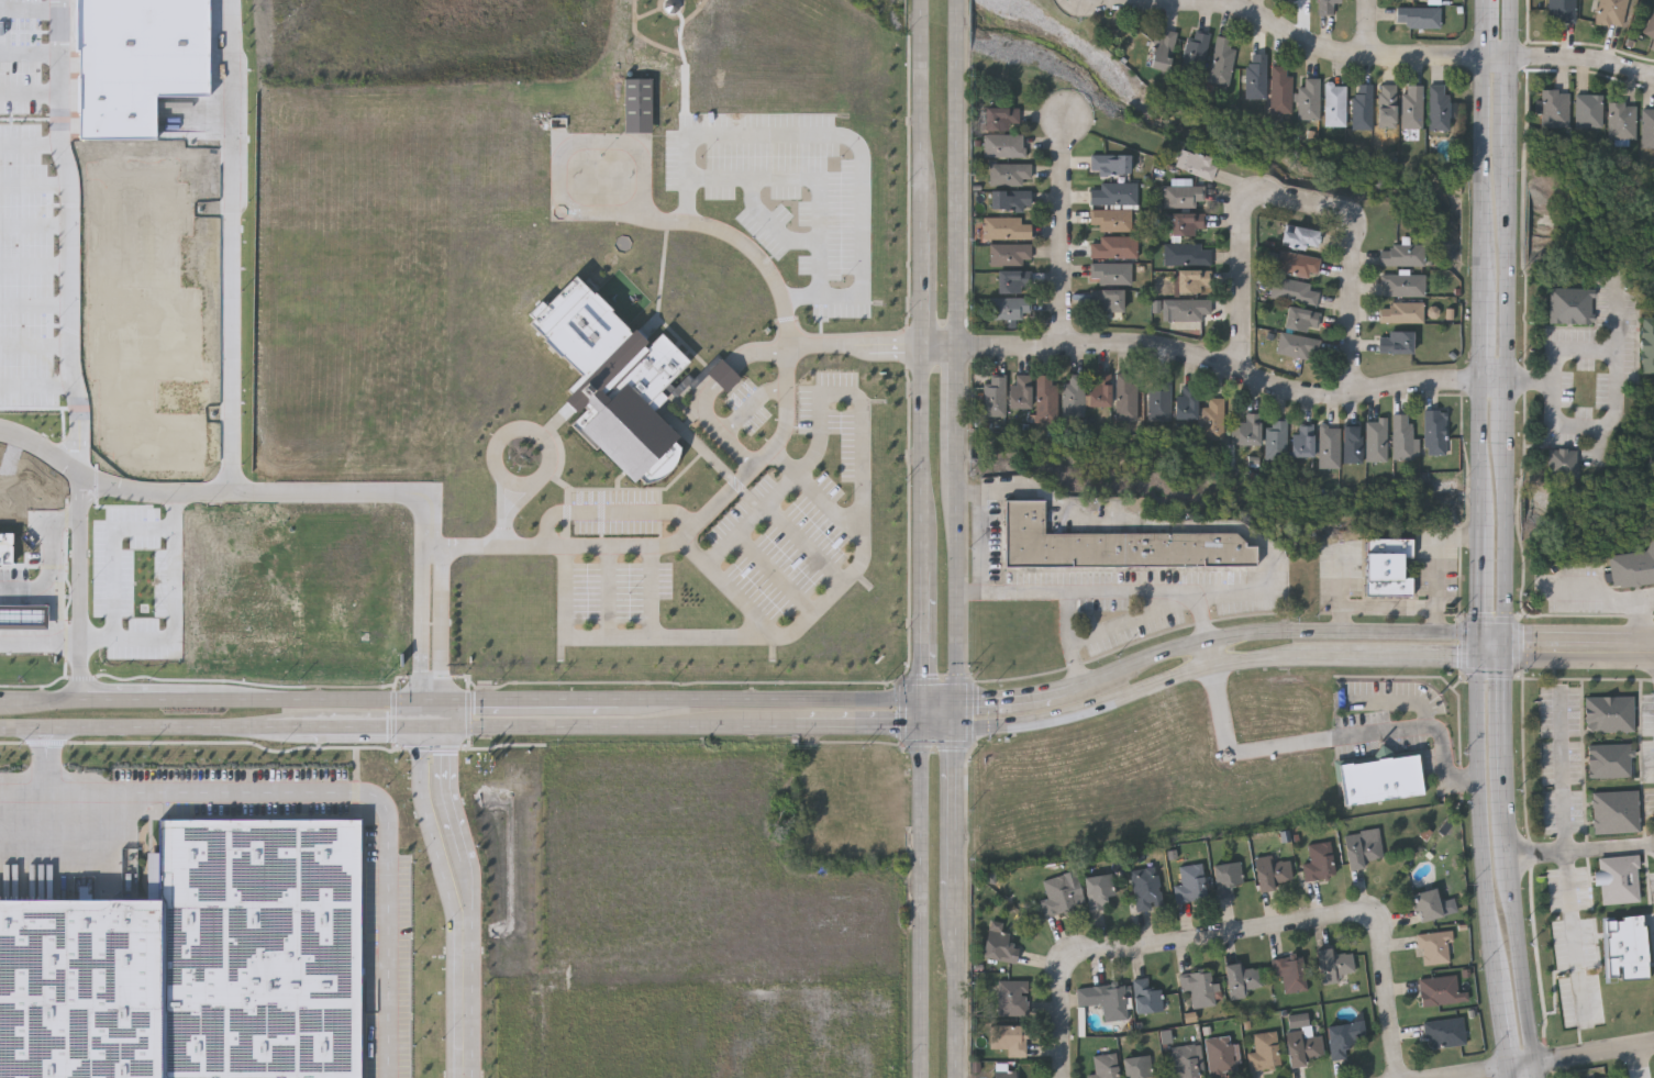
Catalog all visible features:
road: (1094, 1)
building: (1325, 5)
road: (29, 10)
building: (1559, 11)
building: (1609, 12)
road: (921, 18)
building: (1418, 18)
building: (1650, 25)
road: (1368, 27)
road: (1488, 27)
road: (1509, 27)
road: (961, 29)
road: (1290, 34)
building: (1162, 49)
building: (1194, 53)
road: (30, 54)
road: (1498, 56)
building: (1221, 60)
road: (1583, 62)
building: (1255, 76)
building: (1279, 91)
road: (30, 92)
building: (1308, 100)
road: (1508, 103)
building: (1334, 104)
building: (639, 105)
building: (1386, 105)
building: (1361, 107)
building: (1411, 107)
building: (1437, 107)
building: (1553, 107)
building: (1587, 109)
road: (922, 116)
building: (1000, 118)
building: (1620, 119)
building: (1646, 127)
road: (846, 137)
road: (32, 143)
building: (1002, 145)
building: (1109, 164)
building: (1195, 164)
building: (1009, 174)
road: (1484, 174)
road: (810, 178)
road: (36, 185)
building: (1112, 192)
building: (1184, 196)
building: (1009, 200)
road: (1302, 201)
building: (1110, 220)
road: (773, 223)
building: (1186, 224)
road: (35, 225)
building: (1006, 229)
road: (1065, 232)
road: (734, 234)
road: (71, 236)
building: (1299, 237)
road: (231, 247)
building: (1112, 247)
building: (1009, 254)
building: (1185, 254)
building: (1400, 256)
building: (1297, 265)
road: (35, 266)
road: (1507, 267)
road: (922, 271)
building: (1110, 274)
building: (1189, 281)
building: (1011, 282)
building: (1401, 285)
building: (1294, 292)
building: (1104, 301)
road: (35, 305)
building: (1569, 305)
building: (1010, 308)
building: (1188, 310)
building: (1434, 312)
building: (1400, 313)
road: (1619, 314)
building: (1301, 320)
road: (1483, 336)
building: (1396, 343)
road: (799, 346)
building: (1296, 346)
road: (35, 347)
building: (1646, 347)
road: (1205, 360)
road: (723, 375)
building: (724, 376)
road: (959, 378)
road: (1495, 380)
building: (613, 381)
road: (38, 386)
building: (1098, 391)
building: (1018, 394)
building: (992, 397)
building: (1072, 397)
building: (1125, 399)
building: (1043, 400)
building: (1159, 400)
building: (1186, 403)
road: (1617, 405)
road: (862, 408)
road: (1506, 409)
road: (736, 419)
building: (1211, 420)
road: (923, 424)
building: (1245, 431)
building: (1433, 433)
building: (1401, 437)
building: (1275, 440)
building: (1375, 441)
building: (1301, 442)
road: (1605, 442)
building: (1350, 444)
building: (1328, 447)
road: (1483, 453)
building: (1561, 465)
road: (546, 470)
road: (726, 494)
road: (279, 496)
road: (506, 513)
road: (611, 513)
road: (752, 520)
road: (40, 521)
road: (924, 537)
road: (80, 538)
road: (557, 543)
road: (981, 543)
road: (803, 544)
road: (862, 545)
road: (1505, 546)
building: (1112, 547)
building: (7, 548)
road: (111, 552)
building: (1632, 567)
building: (1387, 568)
road: (774, 573)
road: (1481, 579)
road: (58, 580)
road: (652, 589)
road: (733, 589)
road: (29, 590)
road: (609, 590)
road: (1091, 592)
road: (1621, 593)
road: (1431, 605)
road: (173, 610)
road: (1068, 619)
road: (1135, 620)
road: (1434, 620)
road: (431, 623)
road: (1344, 633)
road: (1492, 633)
traffic signals: (1505, 633)
traffic signals: (1481, 634)
road: (925, 635)
road: (1578, 636)
road: (619, 638)
road: (40, 640)
road: (1481, 645)
road: (1211, 653)
traffic signals: (1481, 657)
road: (1492, 657)
traffic signals: (1505, 657)
road: (1578, 659)
road: (1143, 663)
road: (1217, 664)
road: (214, 698)
traffic signals: (430, 698)
road: (677, 698)
traffic signals: (925, 699)
road: (943, 699)
traffic signals: (962, 699)
road: (1021, 699)
road: (430, 711)
road: (925, 711)
road: (962, 711)
building: (1611, 714)
road: (943, 723)
traffic signals: (962, 723)
road: (146, 724)
road: (362, 724)
traffic signals: (430, 724)
road: (612, 724)
road: (859, 724)
traffic signals: (925, 724)
road: (430, 733)
road: (1331, 736)
road: (1503, 756)
building: (1610, 762)
building: (1380, 776)
road: (48, 781)
road: (355, 792)
road: (961, 809)
building: (1616, 812)
road: (1481, 818)
road: (449, 829)
road: (437, 831)
road: (1652, 843)
building: (1362, 846)
road: (1580, 849)
road: (1567, 853)
building: (1319, 860)
building: (1272, 870)
building: (1226, 876)
building: (1619, 880)
building: (1191, 883)
building: (1147, 888)
building: (1099, 890)
building: (1056, 894)
road: (925, 901)
building: (1432, 904)
road: (1231, 933)
building: (1000, 946)
building: (1434, 946)
building: (1627, 947)
road: (1520, 958)
building: (197, 960)
building: (1332, 964)
building: (1290, 971)
building: (1243, 978)
road: (961, 987)
building: (1199, 987)
building: (1441, 989)
building: (1146, 993)
building: (1012, 996)
road: (467, 997)
road: (1390, 997)
building: (1111, 999)
road: (1065, 1008)
road: (1502, 1023)
building: (1445, 1031)
building: (1010, 1037)
building: (1342, 1038)
building: (1303, 1045)
building: (1265, 1051)
road: (1594, 1053)
building: (1220, 1055)
building: (1186, 1062)
road: (1642, 1062)
building: (1142, 1064)
road: (1521, 1064)
building: (1106, 1065)
road: (1535, 1069)
building: (1006, 1070)
road: (1477, 1073)
road: (1508, 1073)
building: (1602, 1077)
building: (1607, 1077)

